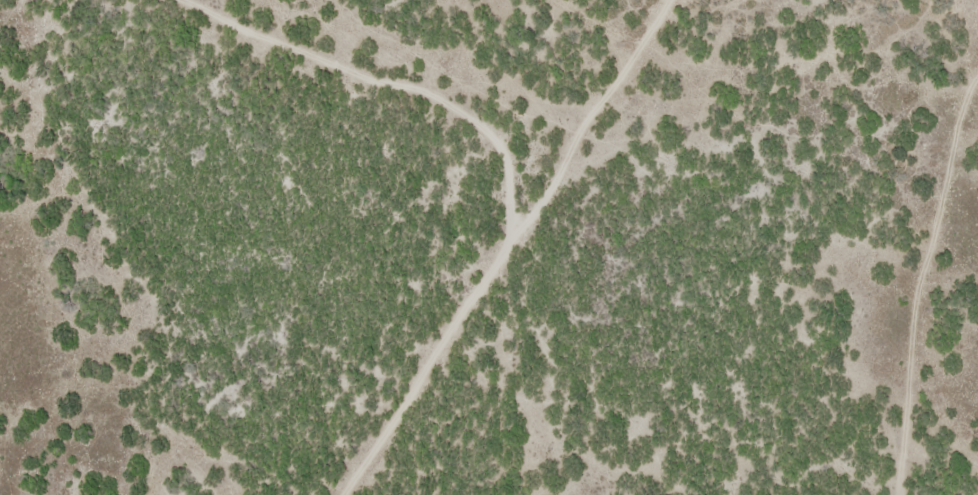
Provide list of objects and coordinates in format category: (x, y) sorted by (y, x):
road: (934, 316)

